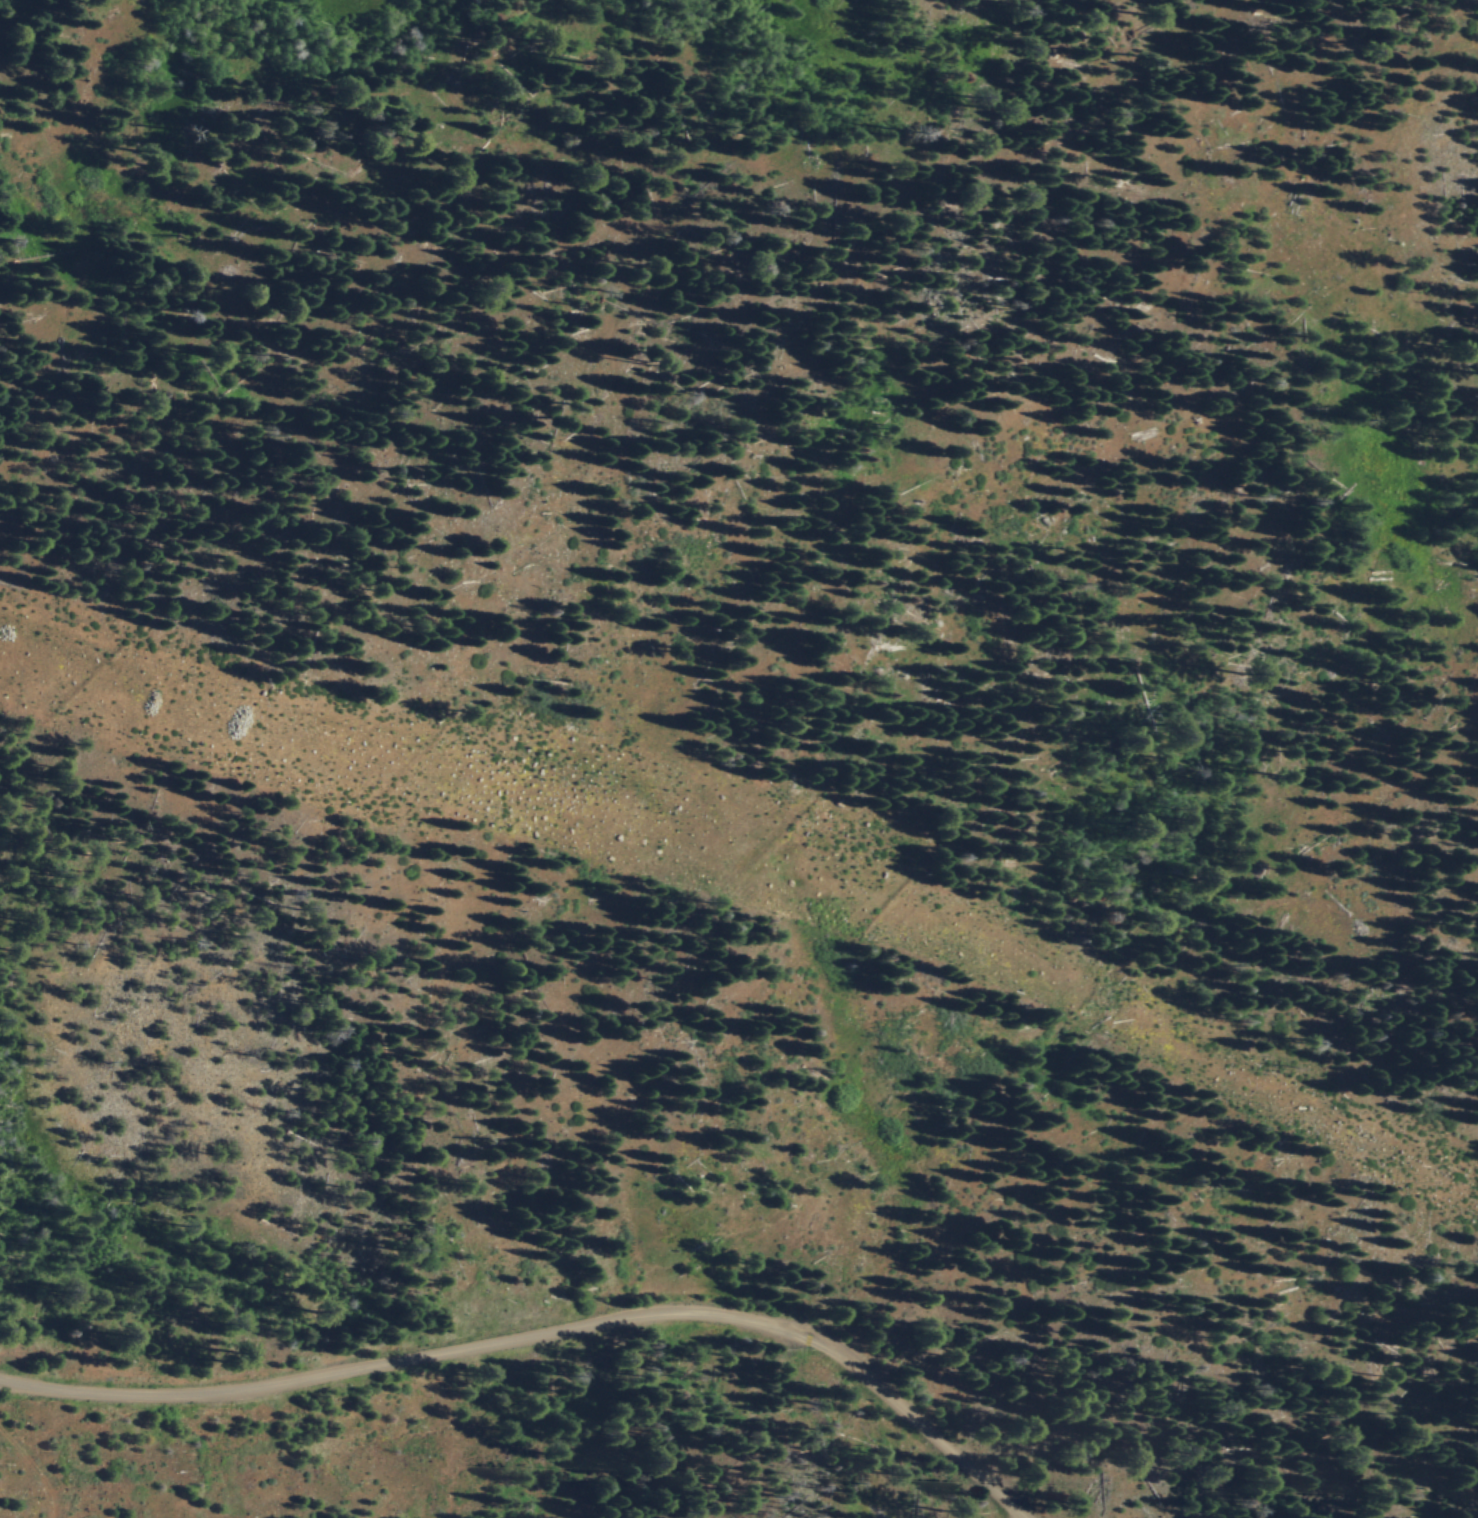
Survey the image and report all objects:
road: (542, 1334)
road: (29, 1465)

